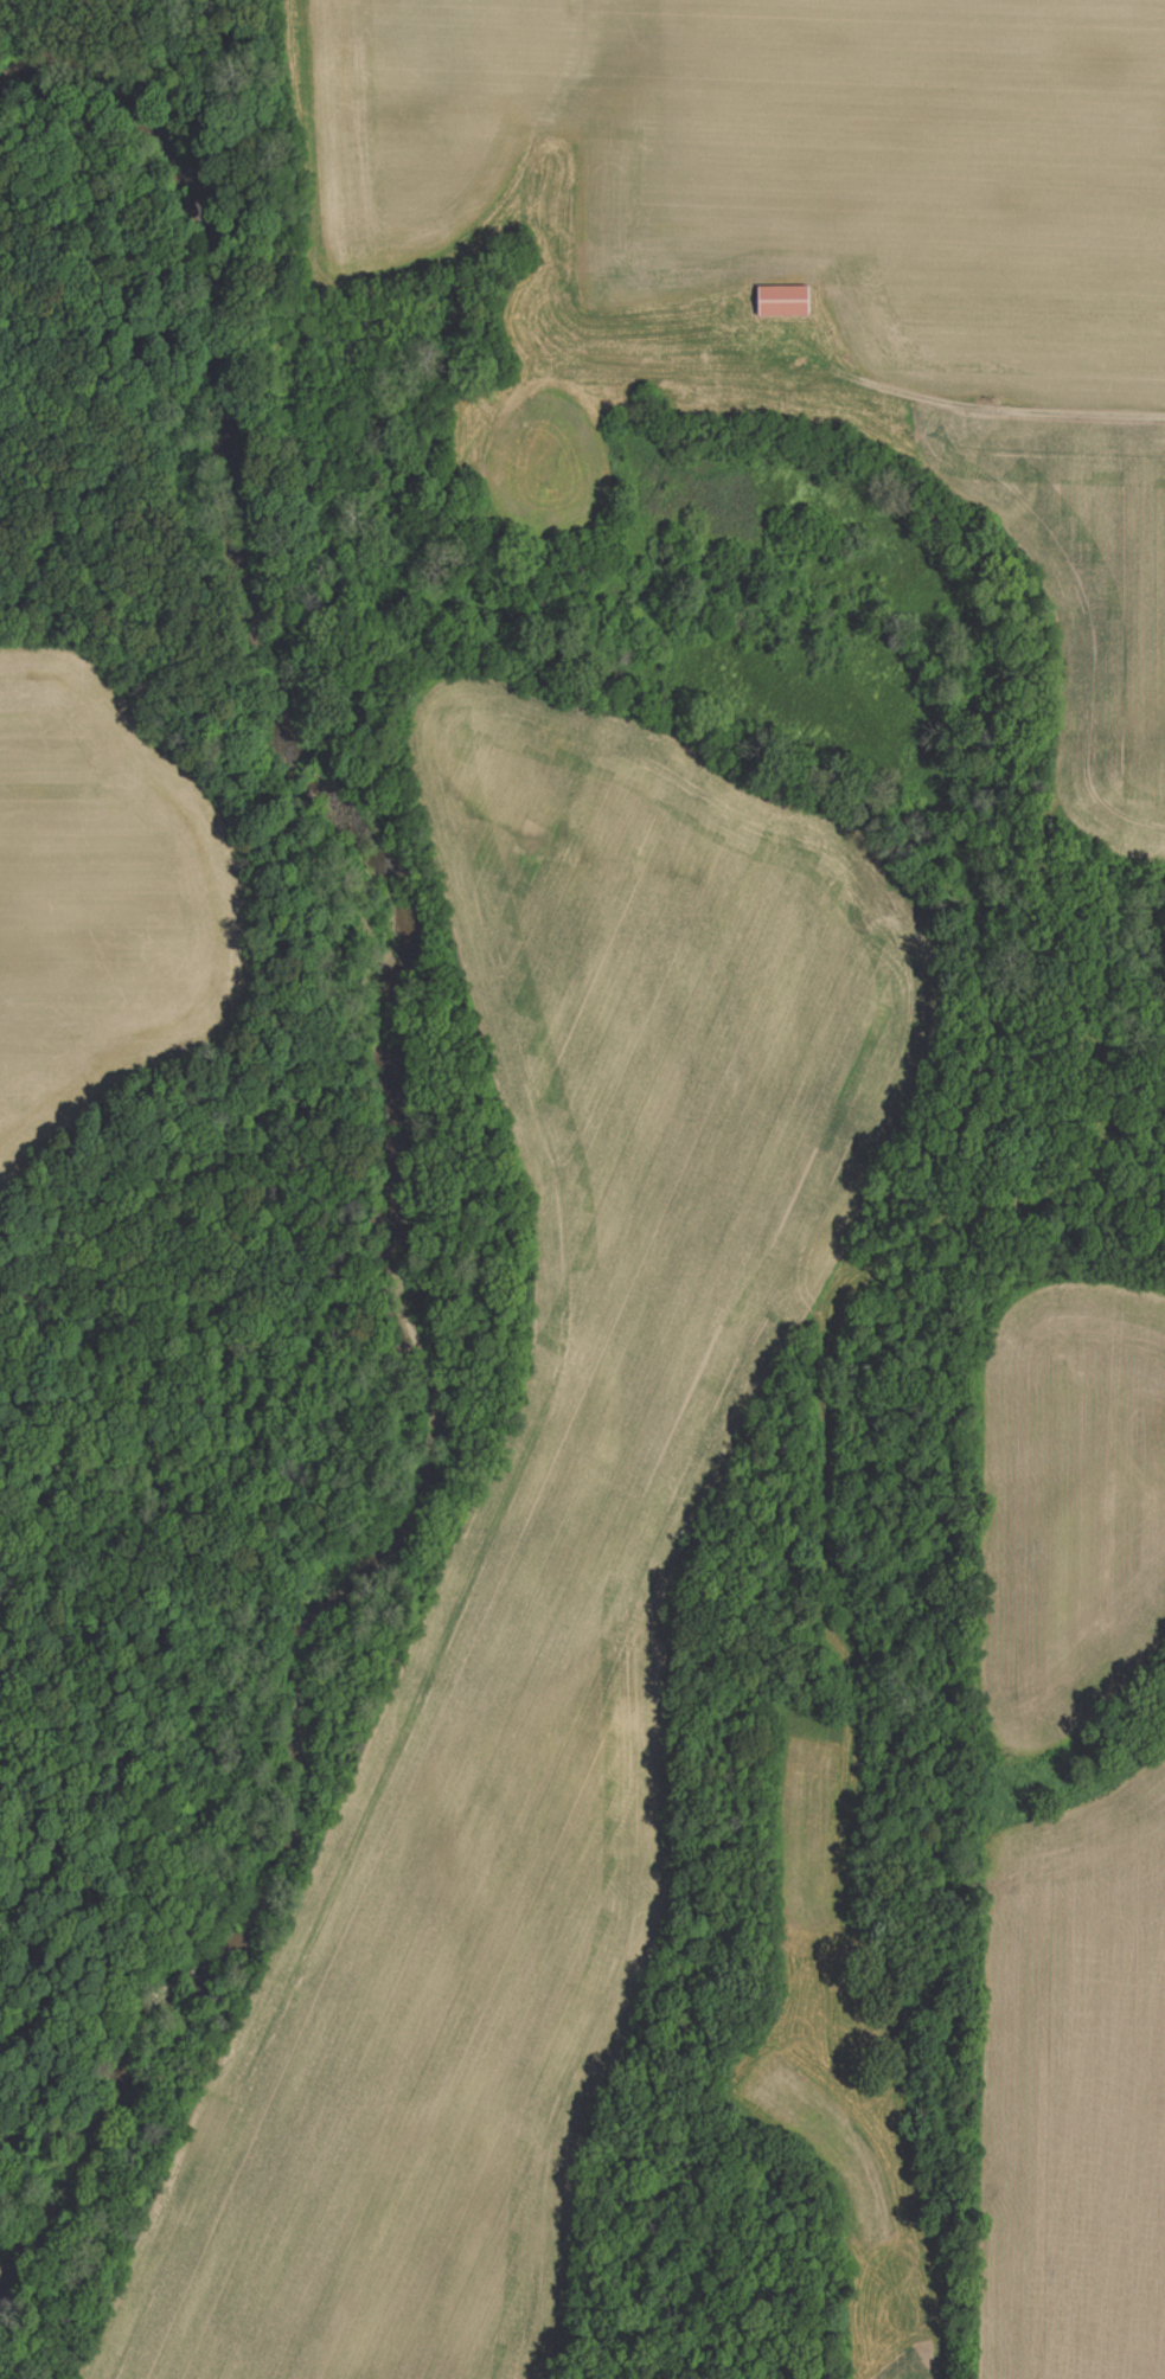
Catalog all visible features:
road: (1014, 412)

